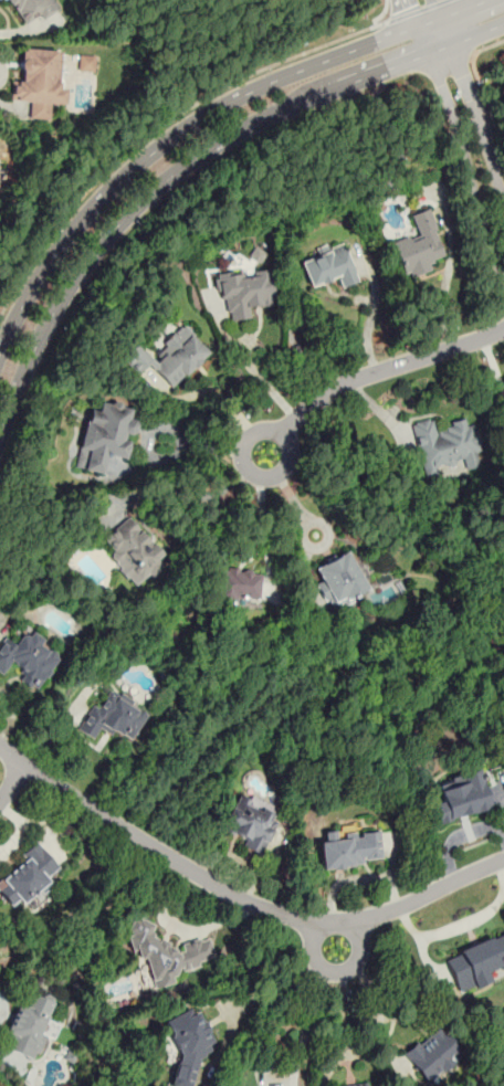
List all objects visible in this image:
building: (29, 10)
road: (416, 10)
road: (437, 10)
road: (381, 12)
road: (413, 13)
road: (491, 43)
building: (86, 64)
building: (39, 82)
road: (475, 110)
road: (202, 118)
road: (160, 127)
road: (460, 149)
road: (192, 159)
building: (419, 244)
building: (258, 254)
building: (329, 263)
road: (448, 272)
building: (244, 292)
road: (369, 314)
building: (169, 358)
road: (374, 372)
road: (262, 378)
building: (105, 435)
building: (447, 446)
road: (284, 488)
road: (188, 492)
road: (263, 510)
road: (302, 537)
building: (134, 549)
building: (339, 579)
building: (239, 583)
building: (29, 658)
building: (114, 716)
road: (12, 783)
building: (462, 798)
building: (249, 823)
road: (24, 829)
road: (460, 831)
building: (350, 847)
building: (27, 877)
road: (355, 879)
road: (239, 897)
road: (464, 922)
road: (179, 925)
road: (335, 934)
building: (167, 953)
building: (477, 962)
road: (286, 982)
road: (376, 1003)
road: (307, 1014)
road: (343, 1019)
building: (29, 1024)
building: (188, 1043)
building: (433, 1054)
building: (358, 1085)

